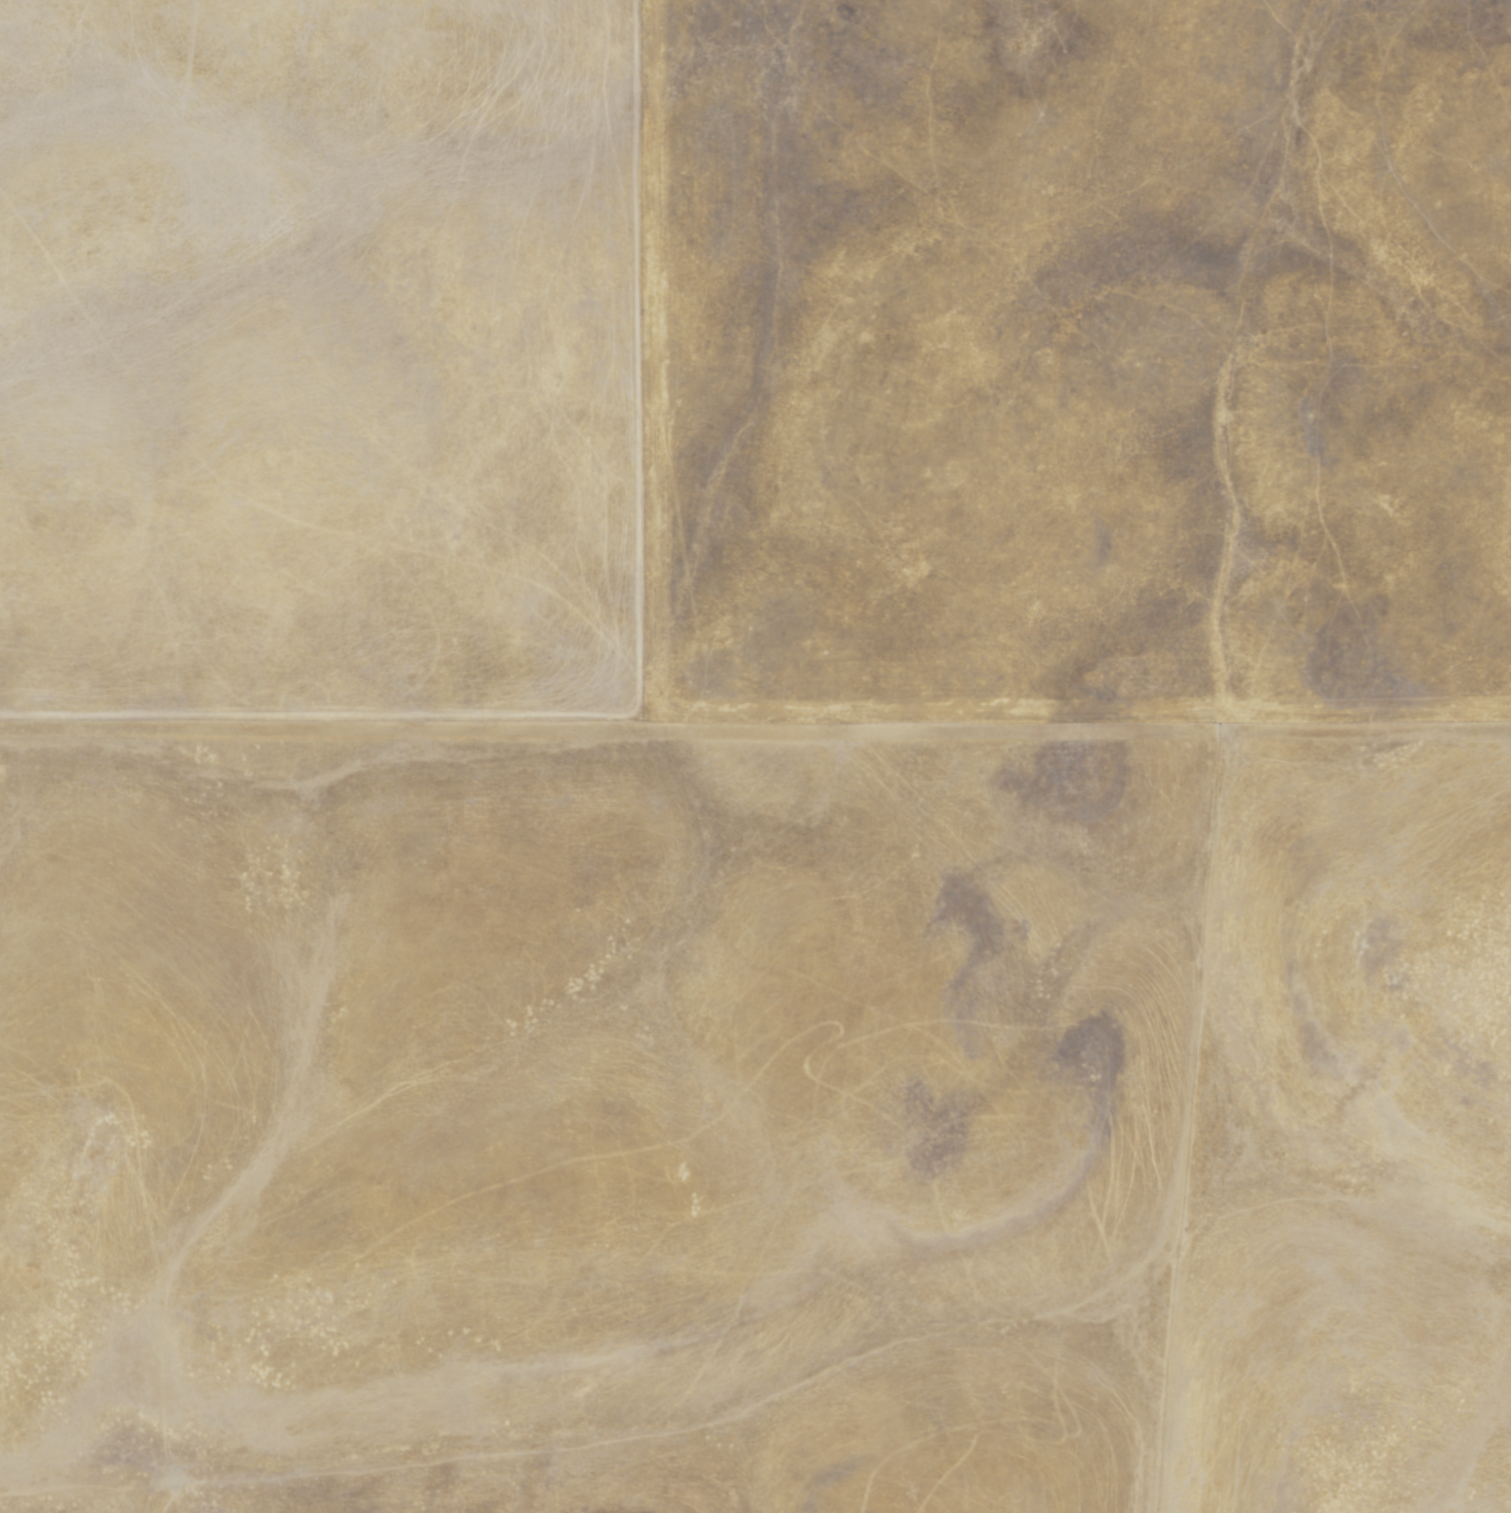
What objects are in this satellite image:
road: (627, 706)
road: (345, 708)
road: (755, 730)

